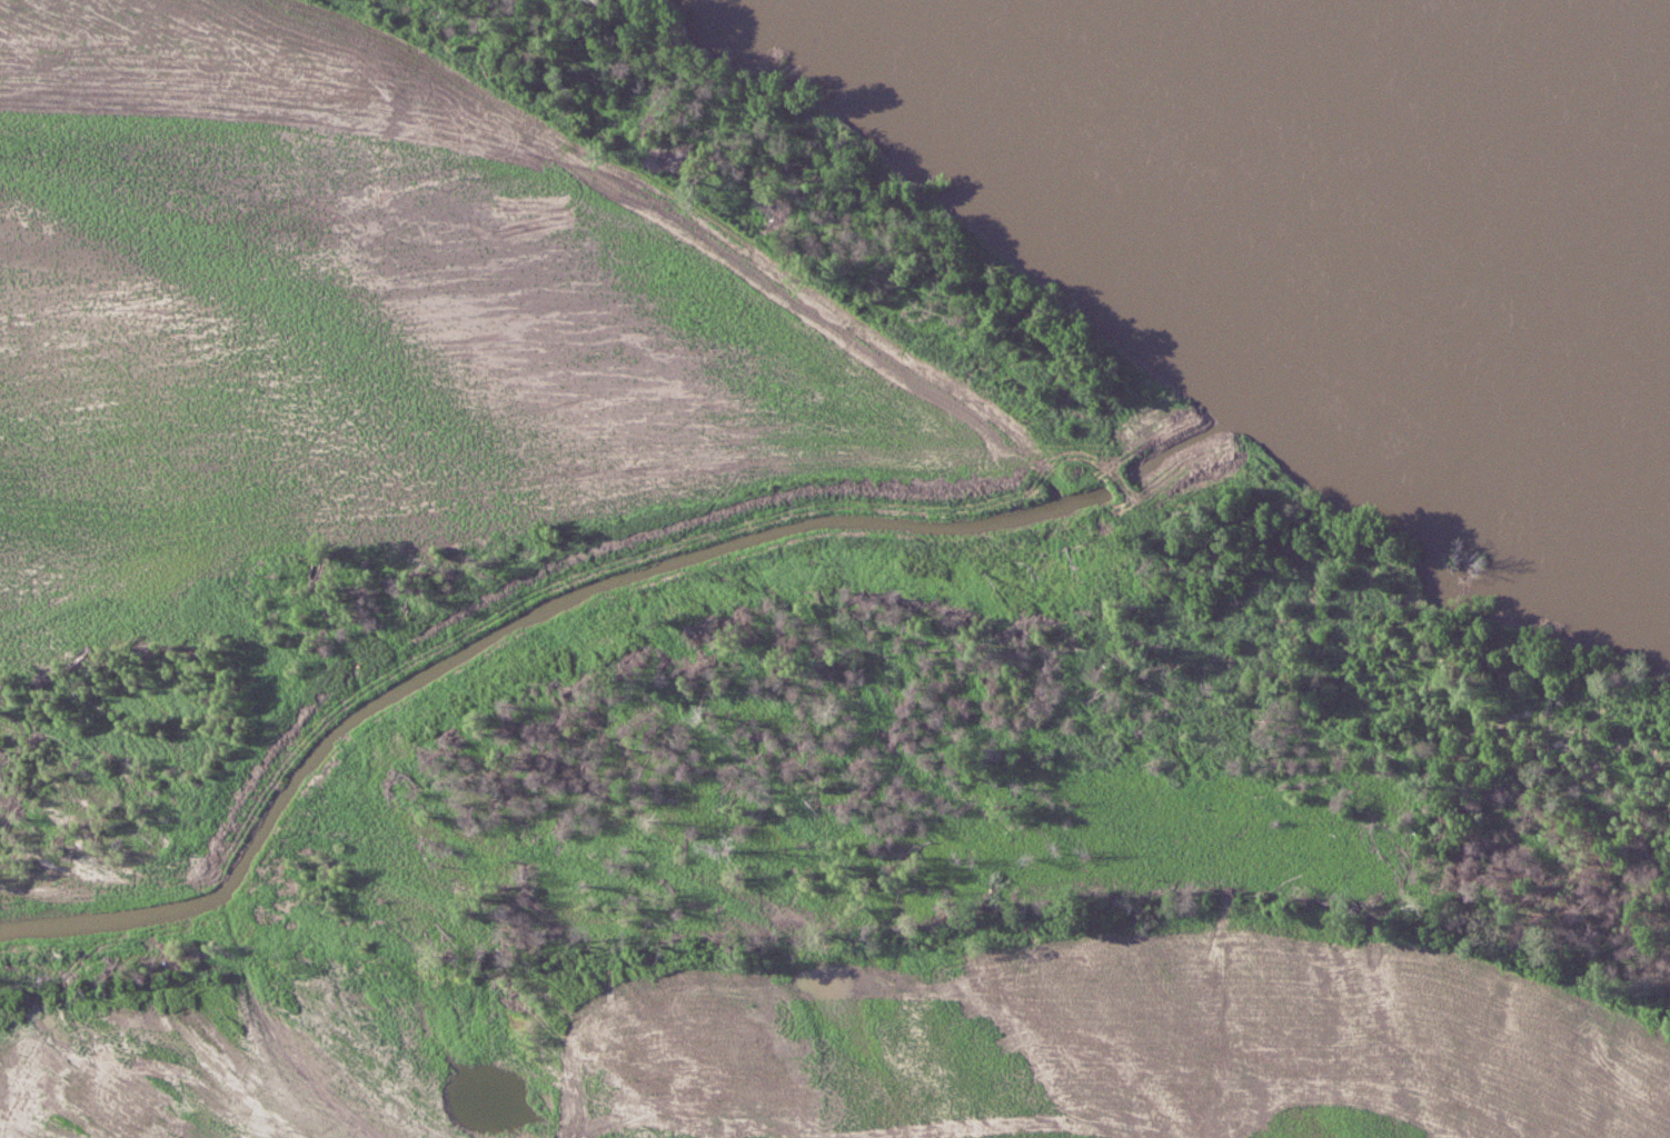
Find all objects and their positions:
river: (1459, 141)

